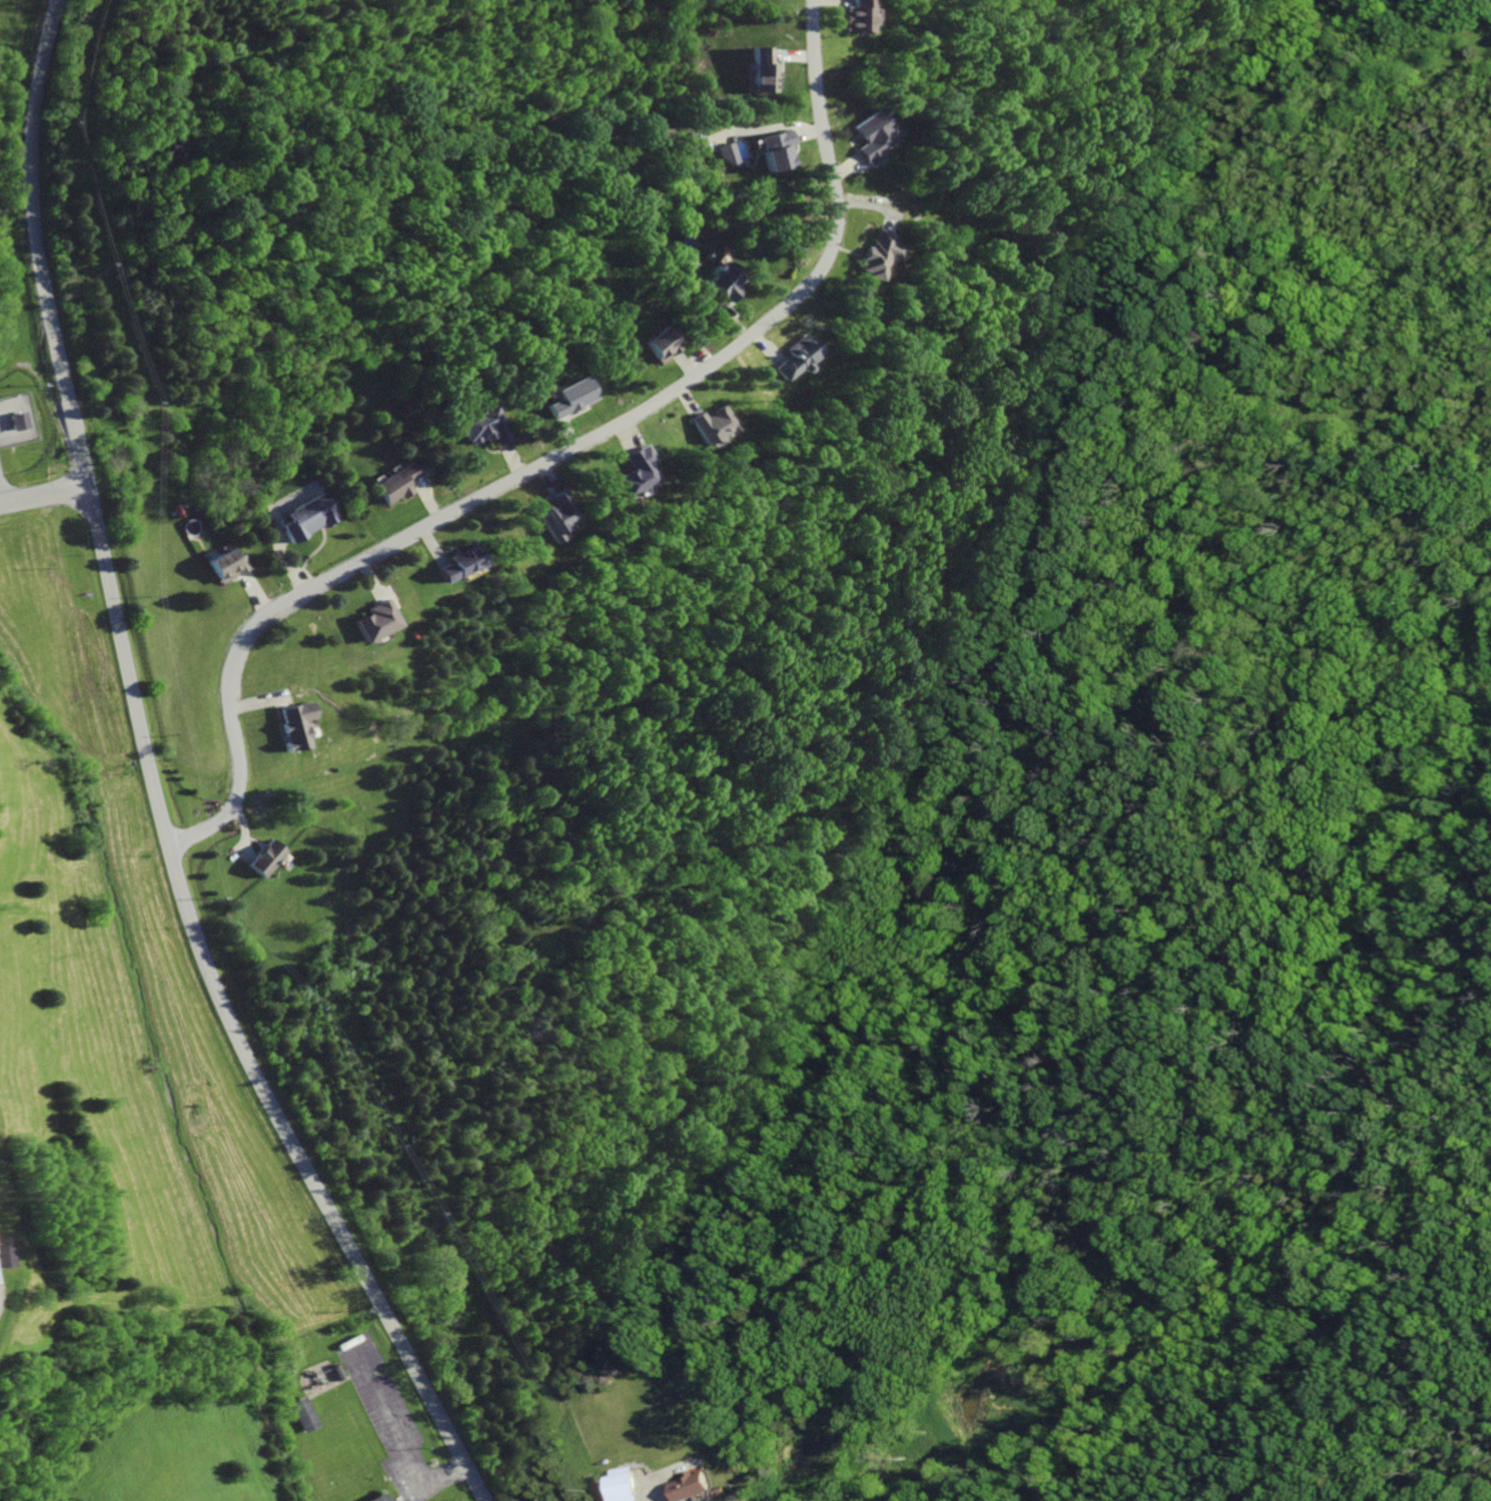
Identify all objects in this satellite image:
building: (849, 17)
building: (757, 72)
building: (866, 139)
building: (772, 152)
building: (723, 155)
building: (875, 255)
building: (721, 281)
building: (657, 344)
building: (793, 359)
building: (567, 397)
building: (16, 421)
building: (480, 424)
building: (709, 424)
road: (552, 458)
building: (632, 473)
building: (396, 484)
road: (44, 493)
building: (307, 517)
building: (557, 517)
building: (457, 564)
building: (227, 565)
building: (376, 621)
building: (295, 725)
road: (154, 780)
building: (266, 859)
building: (4, 1257)
building: (305, 1415)
building: (691, 1487)
building: (623, 1488)
building: (378, 1498)
building: (390, 1500)

